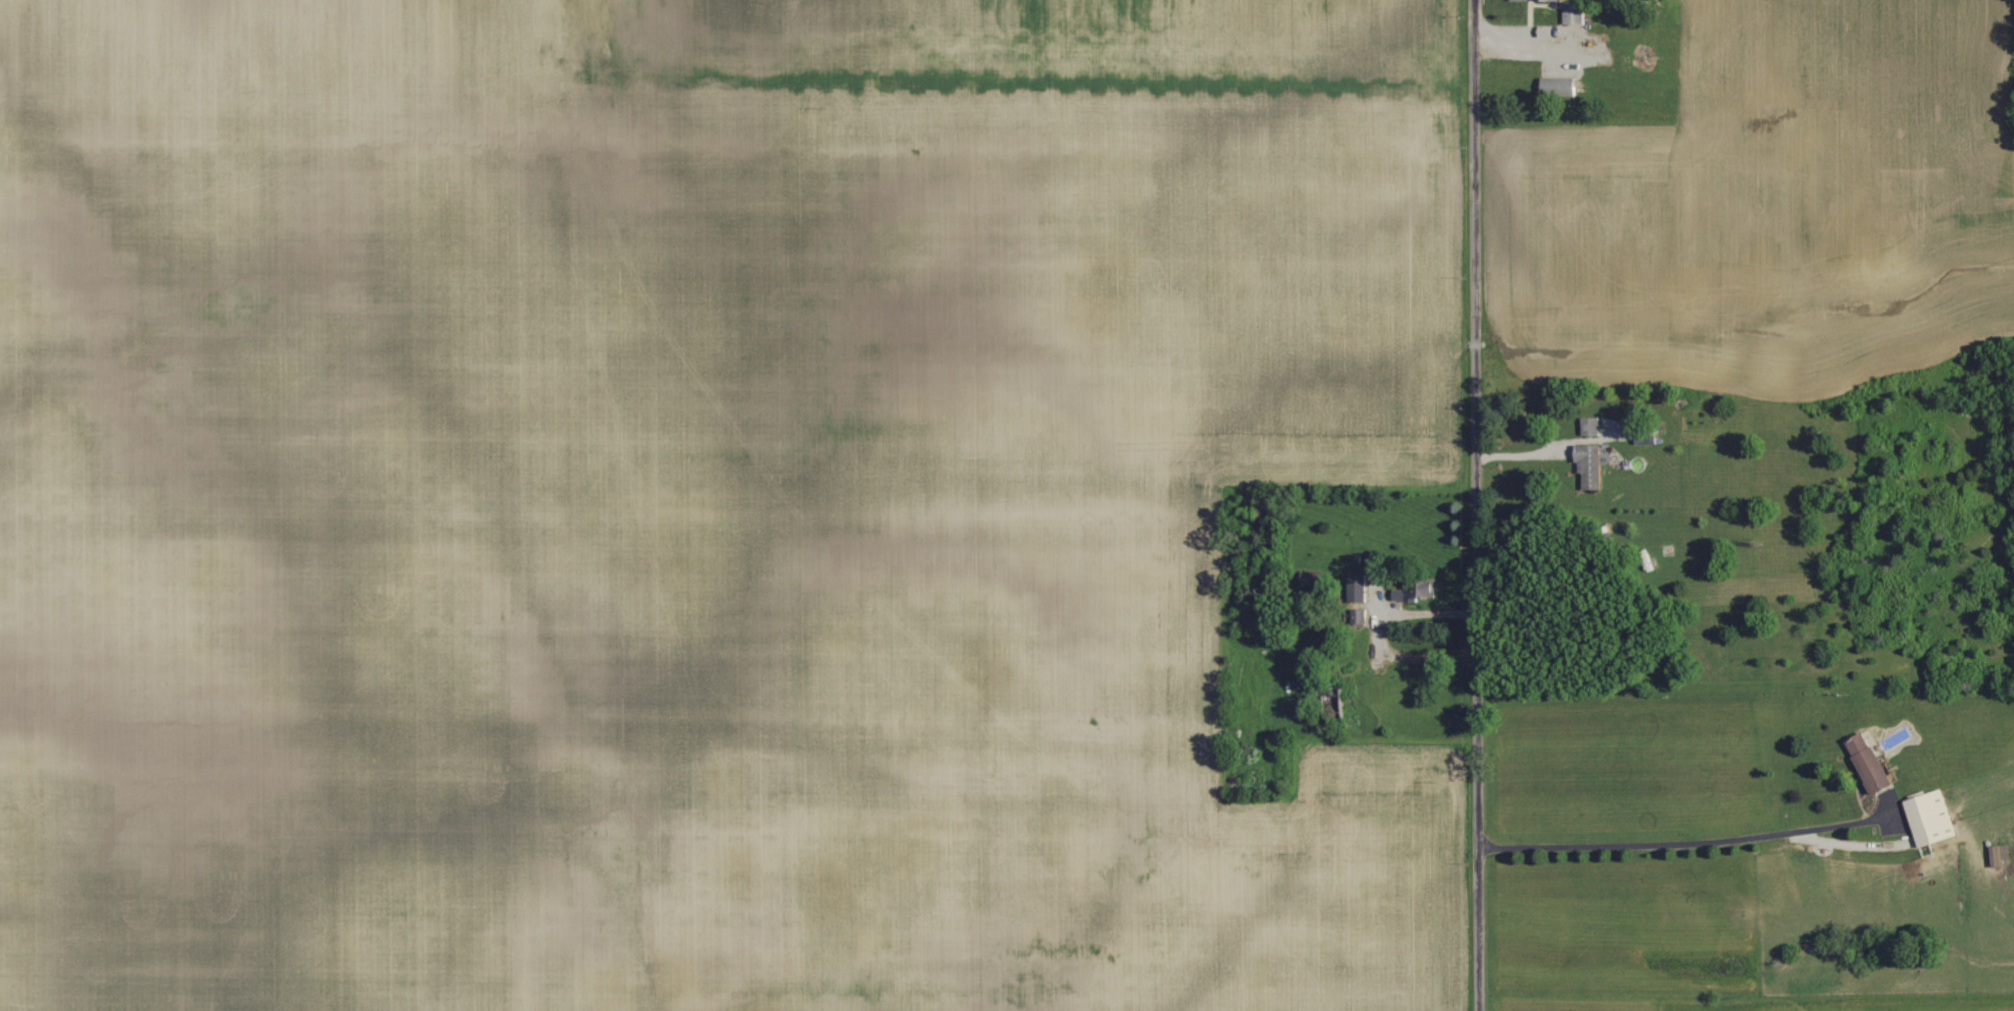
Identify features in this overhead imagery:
building: (1576, 13)
building: (1592, 425)
road: (1549, 448)
building: (1591, 466)
road: (1474, 505)
building: (1360, 587)
building: (1419, 591)
road: (1381, 631)
building: (1873, 762)
building: (1934, 817)
road: (1686, 842)

